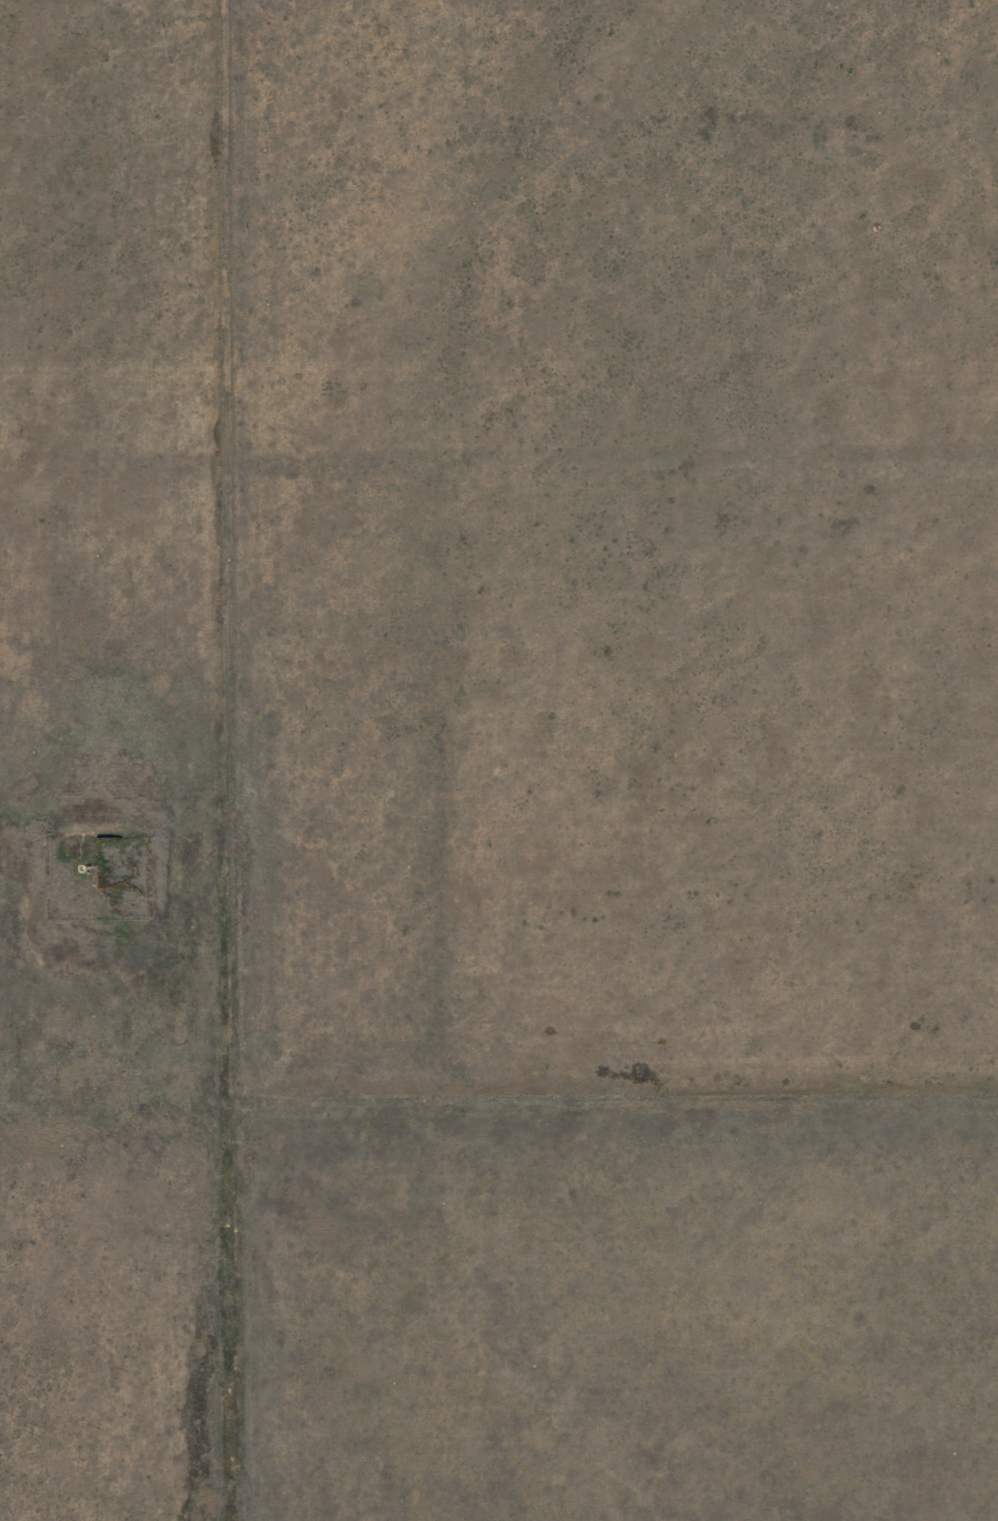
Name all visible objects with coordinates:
road: (191, 1136)

